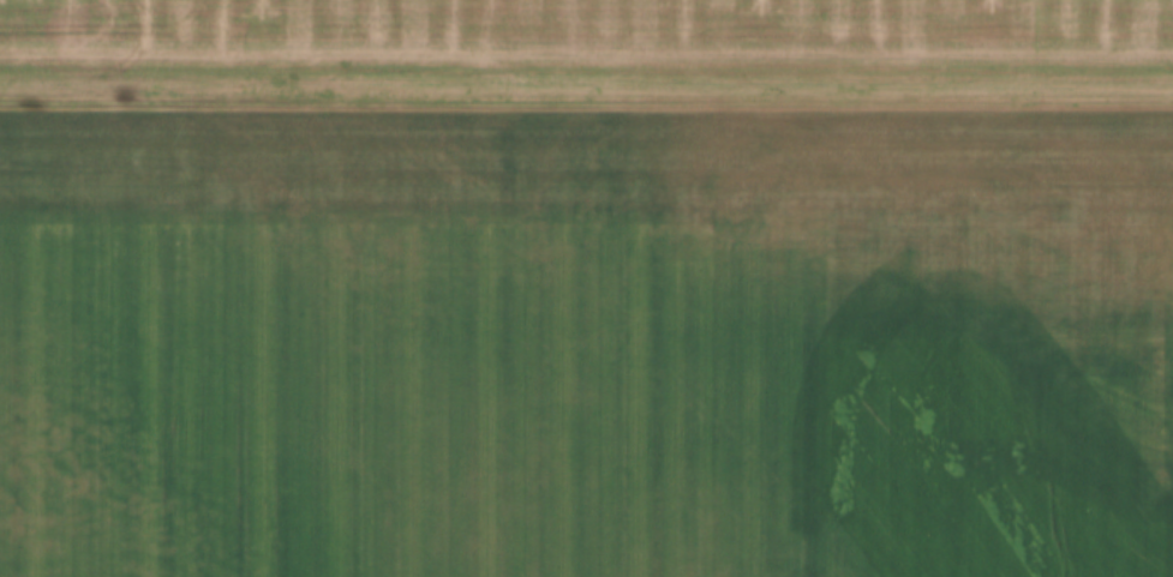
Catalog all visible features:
road: (586, 106)

